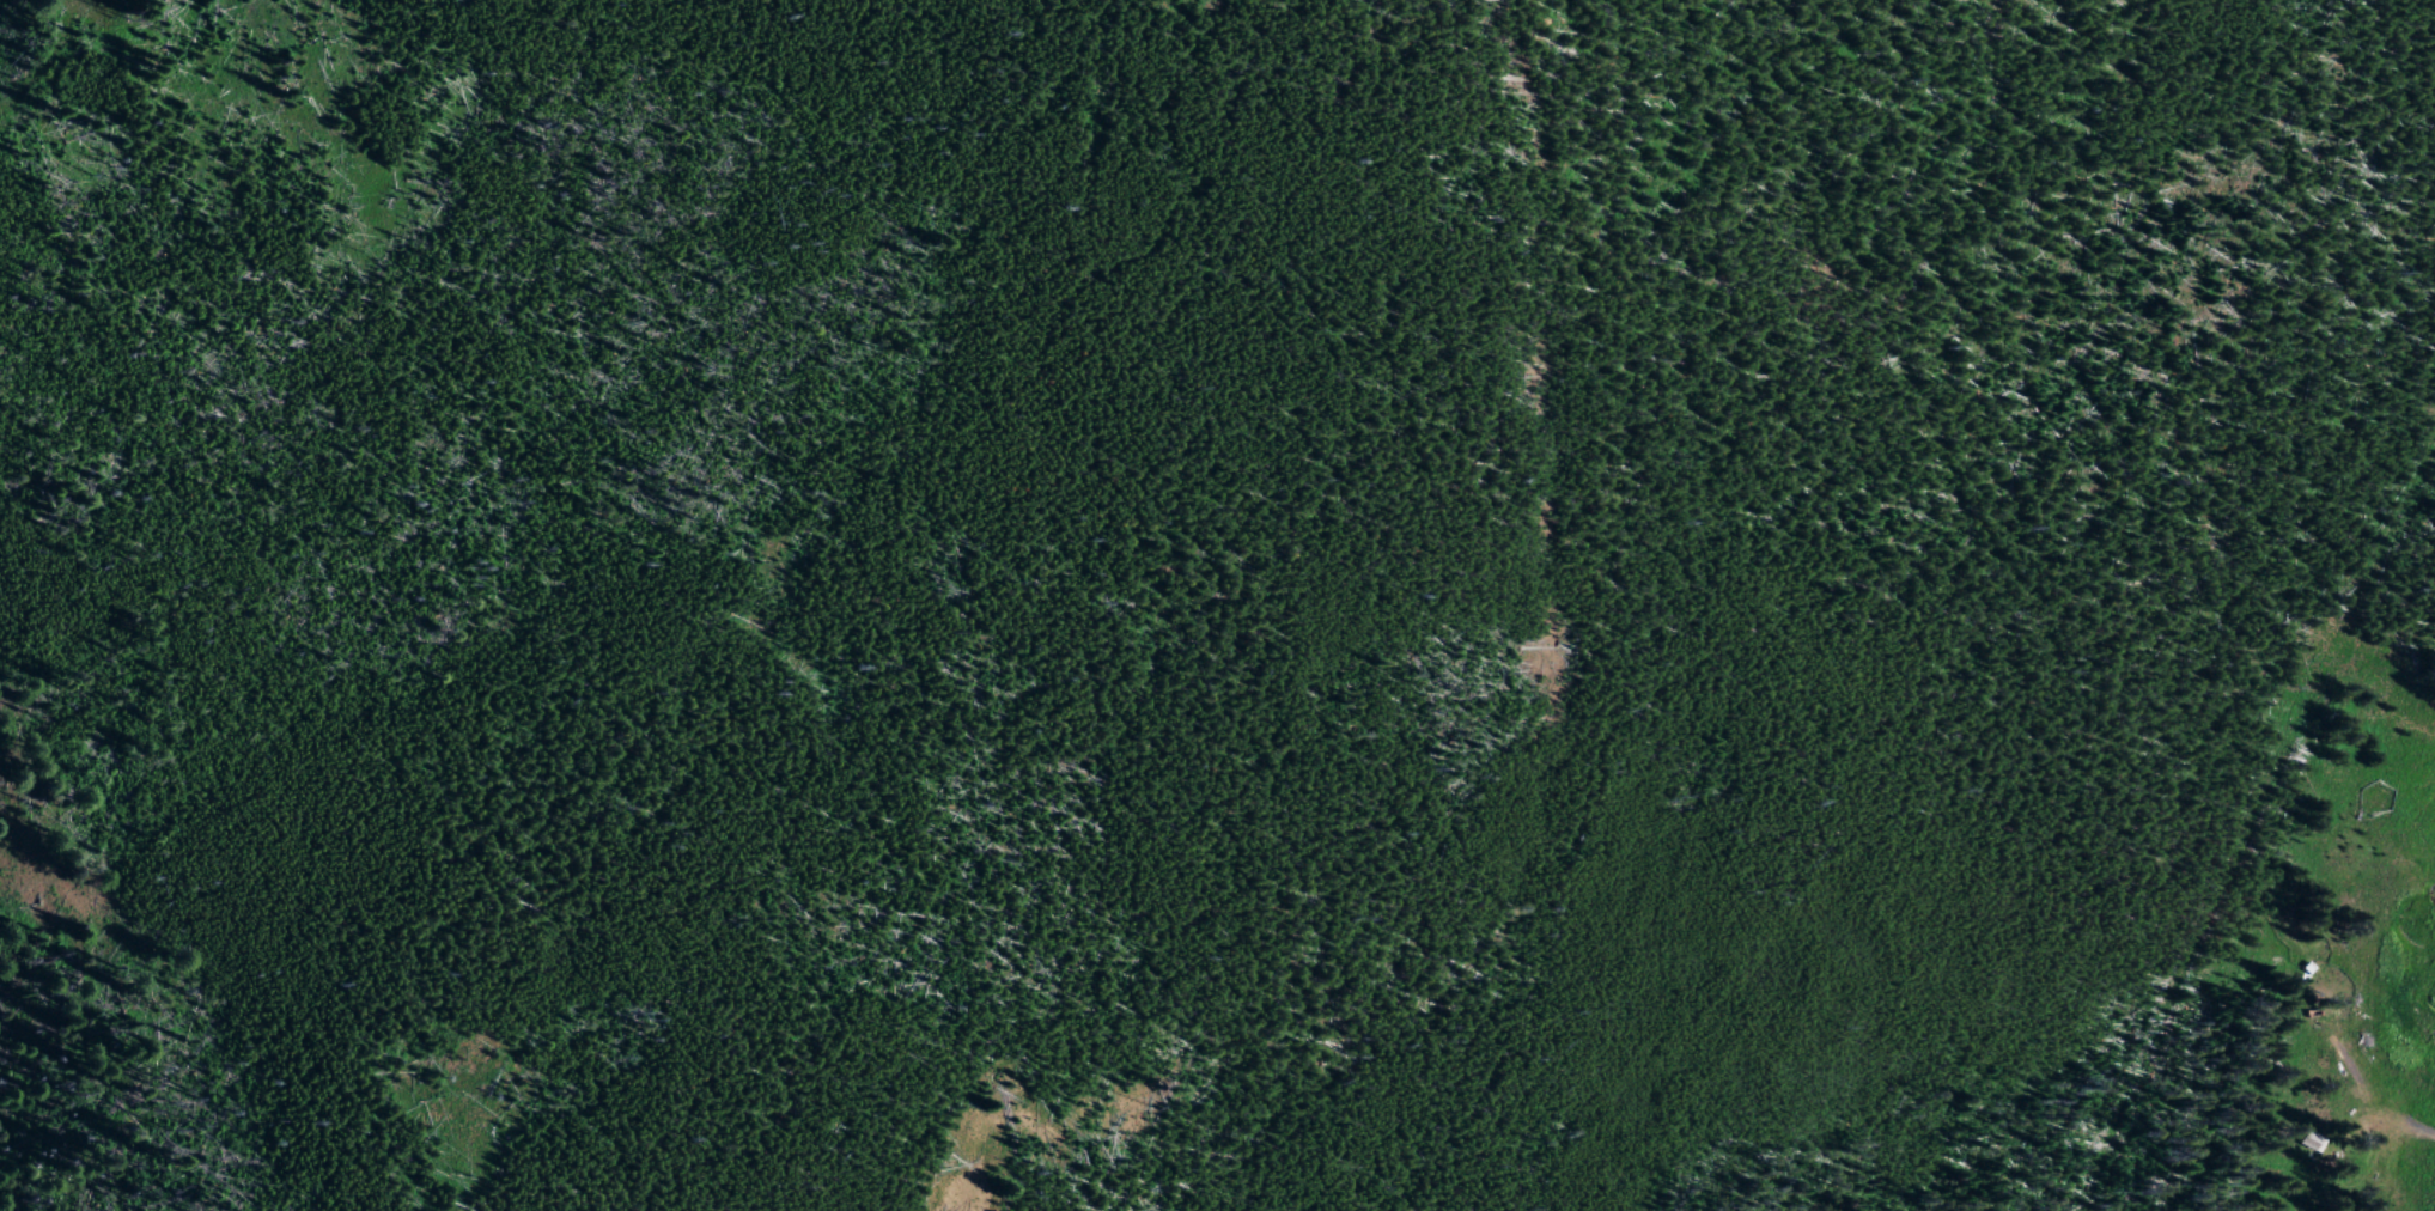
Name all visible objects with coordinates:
road: (2370, 1107)
building: (2309, 1142)

